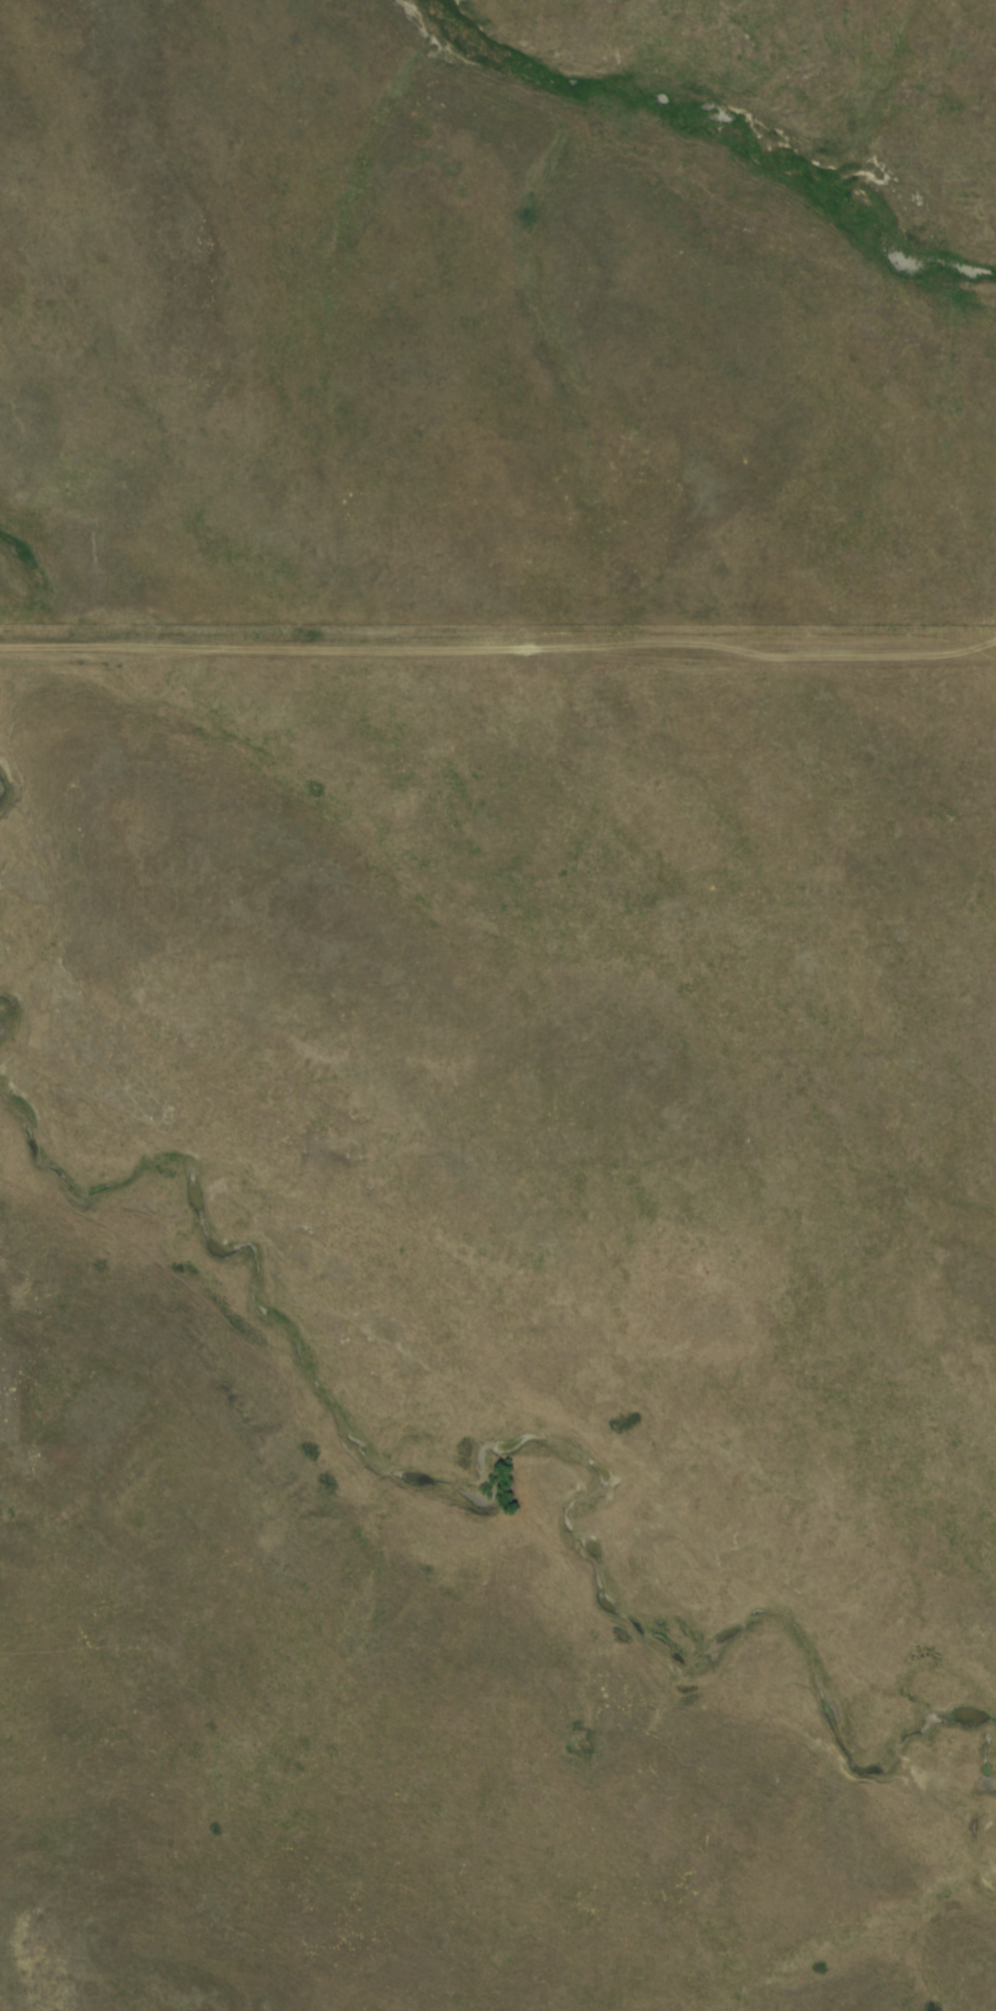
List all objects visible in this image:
road: (498, 682)

